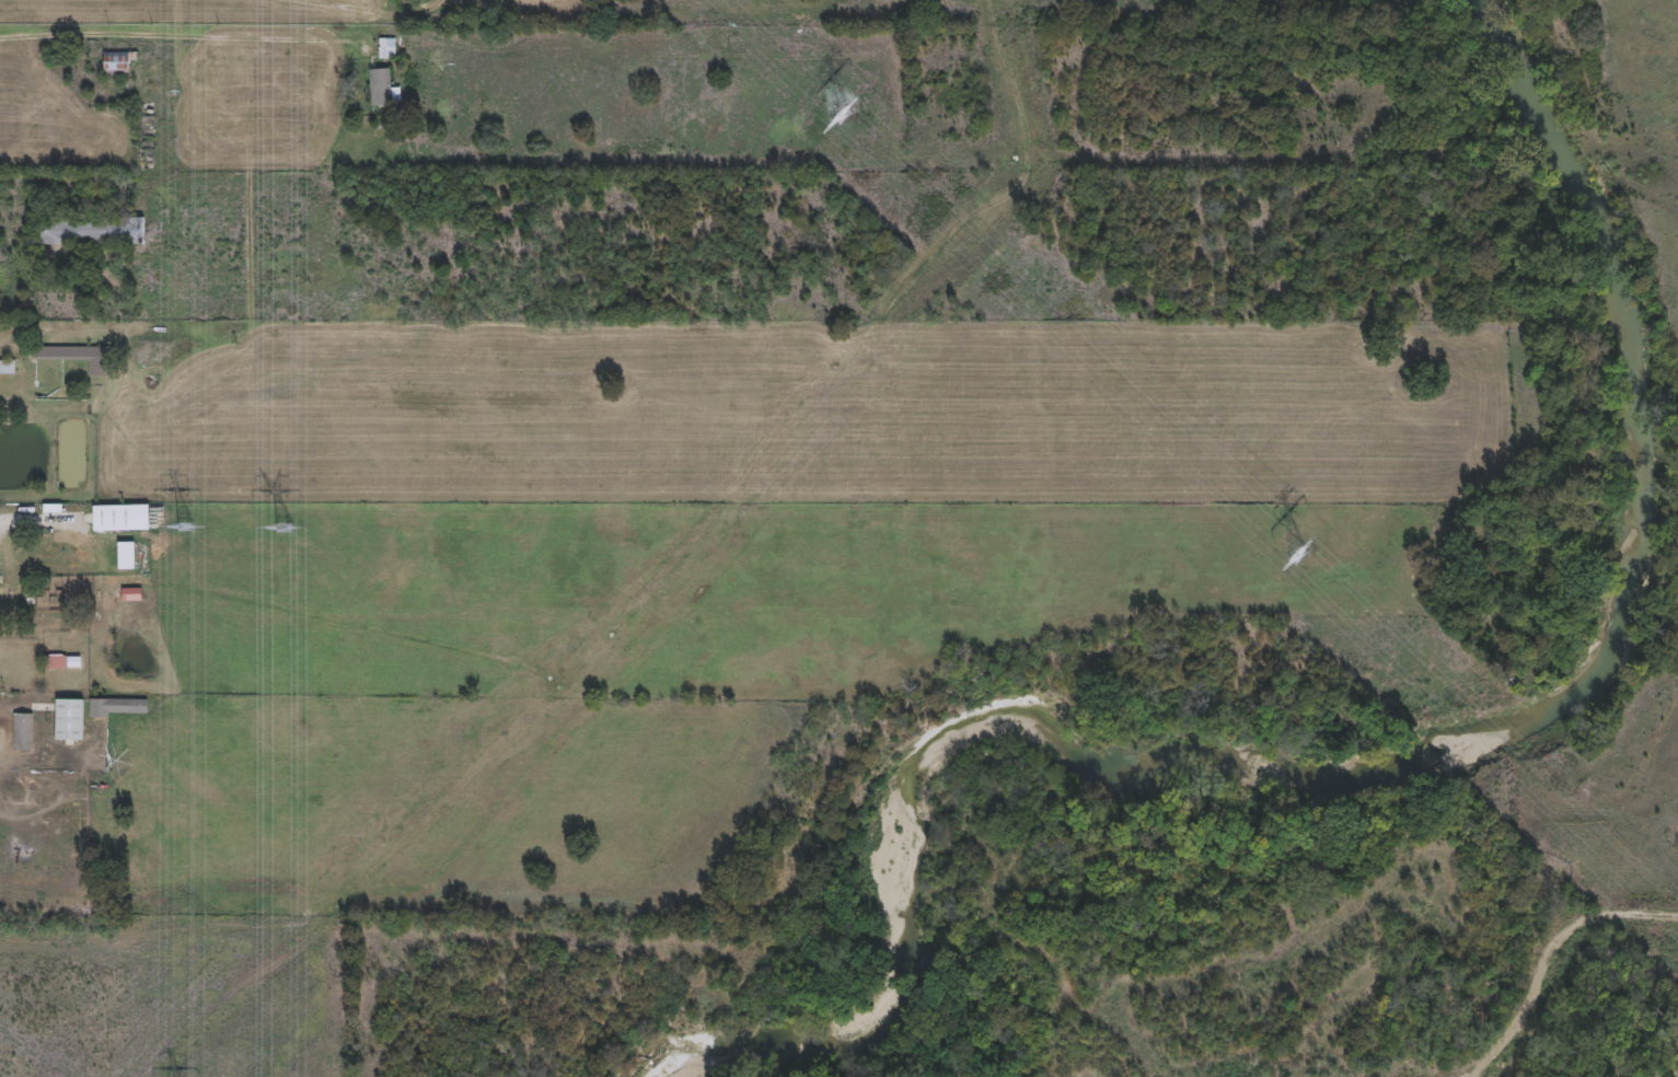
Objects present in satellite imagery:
road: (355, 4)
road: (166, 23)
building: (115, 66)
building: (380, 88)
power tower: (843, 116)
building: (89, 229)
building: (7, 366)
power tower: (188, 526)
power tower: (288, 528)
power tower: (1303, 557)
building: (130, 593)
building: (117, 706)
building: (69, 719)
building: (22, 731)

